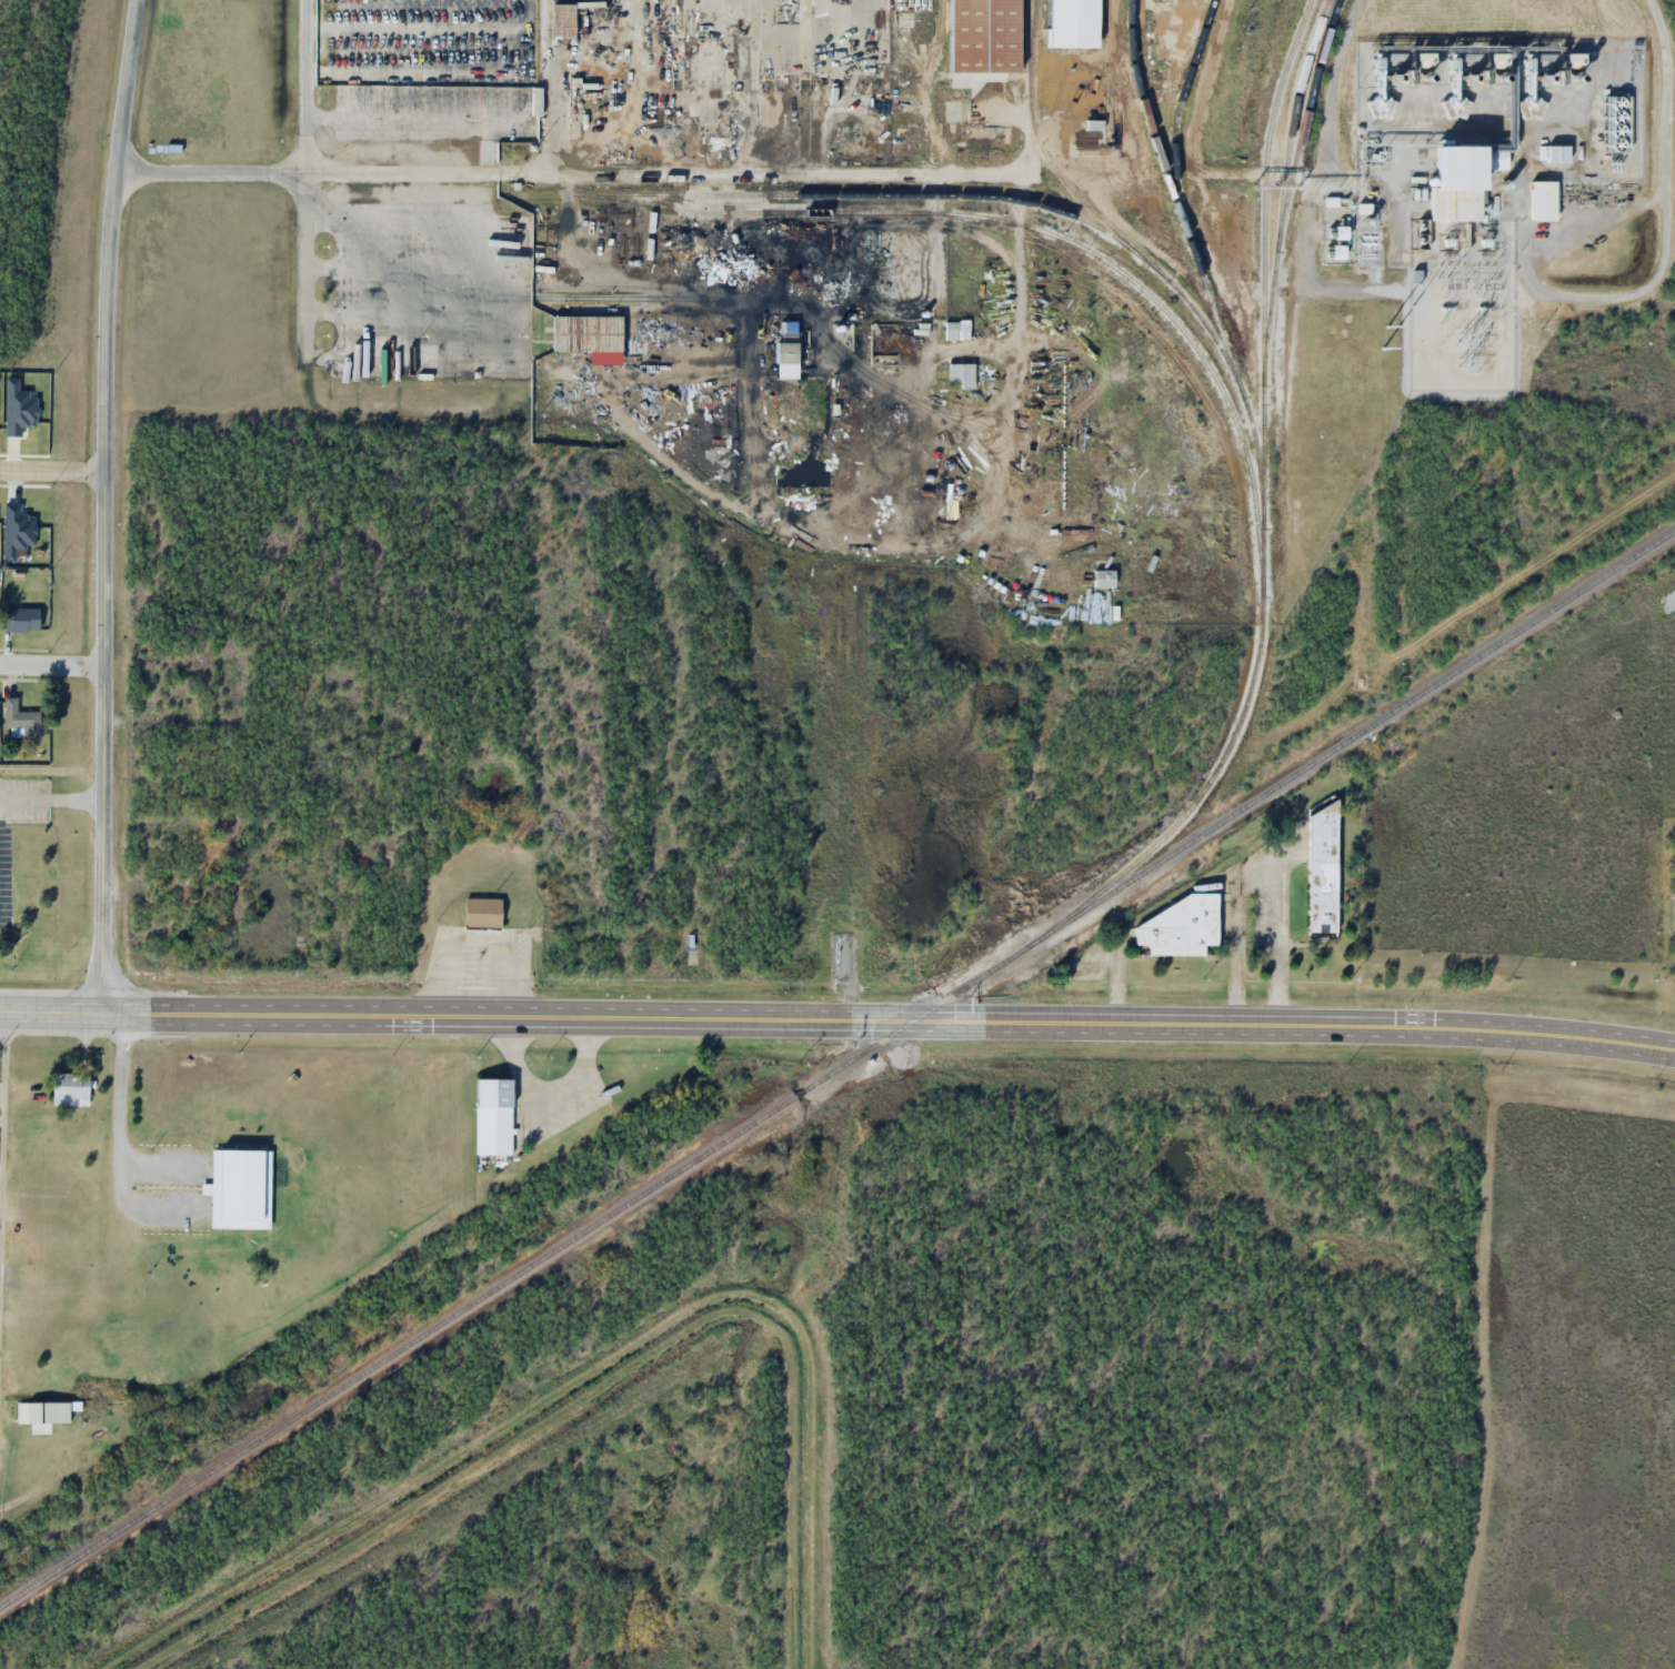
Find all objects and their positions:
building: (1072, 23)
building: (568, 24)
road: (418, 28)
building: (980, 34)
building: (659, 46)
parking lot: (434, 69)
road: (418, 74)
railway: (1305, 110)
road: (478, 120)
power plant: (1478, 129)
building: (1557, 153)
railway: (1285, 173)
road: (660, 174)
road: (307, 178)
building: (1457, 184)
building: (1543, 201)
building: (715, 204)
railway: (1040, 231)
railway: (1264, 243)
building: (838, 270)
road: (415, 271)
road: (524, 290)
parking lot: (427, 291)
power substation: (1457, 302)
railway: (1195, 309)
road: (414, 314)
building: (950, 326)
building: (588, 333)
building: (786, 349)
building: (962, 374)
building: (820, 464)
road: (52, 472)
road: (106, 505)
building: (20, 619)
road: (52, 665)
building: (19, 720)
road: (52, 765)
railway: (1238, 810)
building: (1322, 871)
building: (482, 913)
building: (1175, 928)
road: (50, 1012)
road: (889, 1020)
building: (72, 1083)
railway: (799, 1093)
building: (493, 1117)
road: (2, 1145)
building: (239, 1189)
railway: (397, 1351)
building: (50, 1411)

